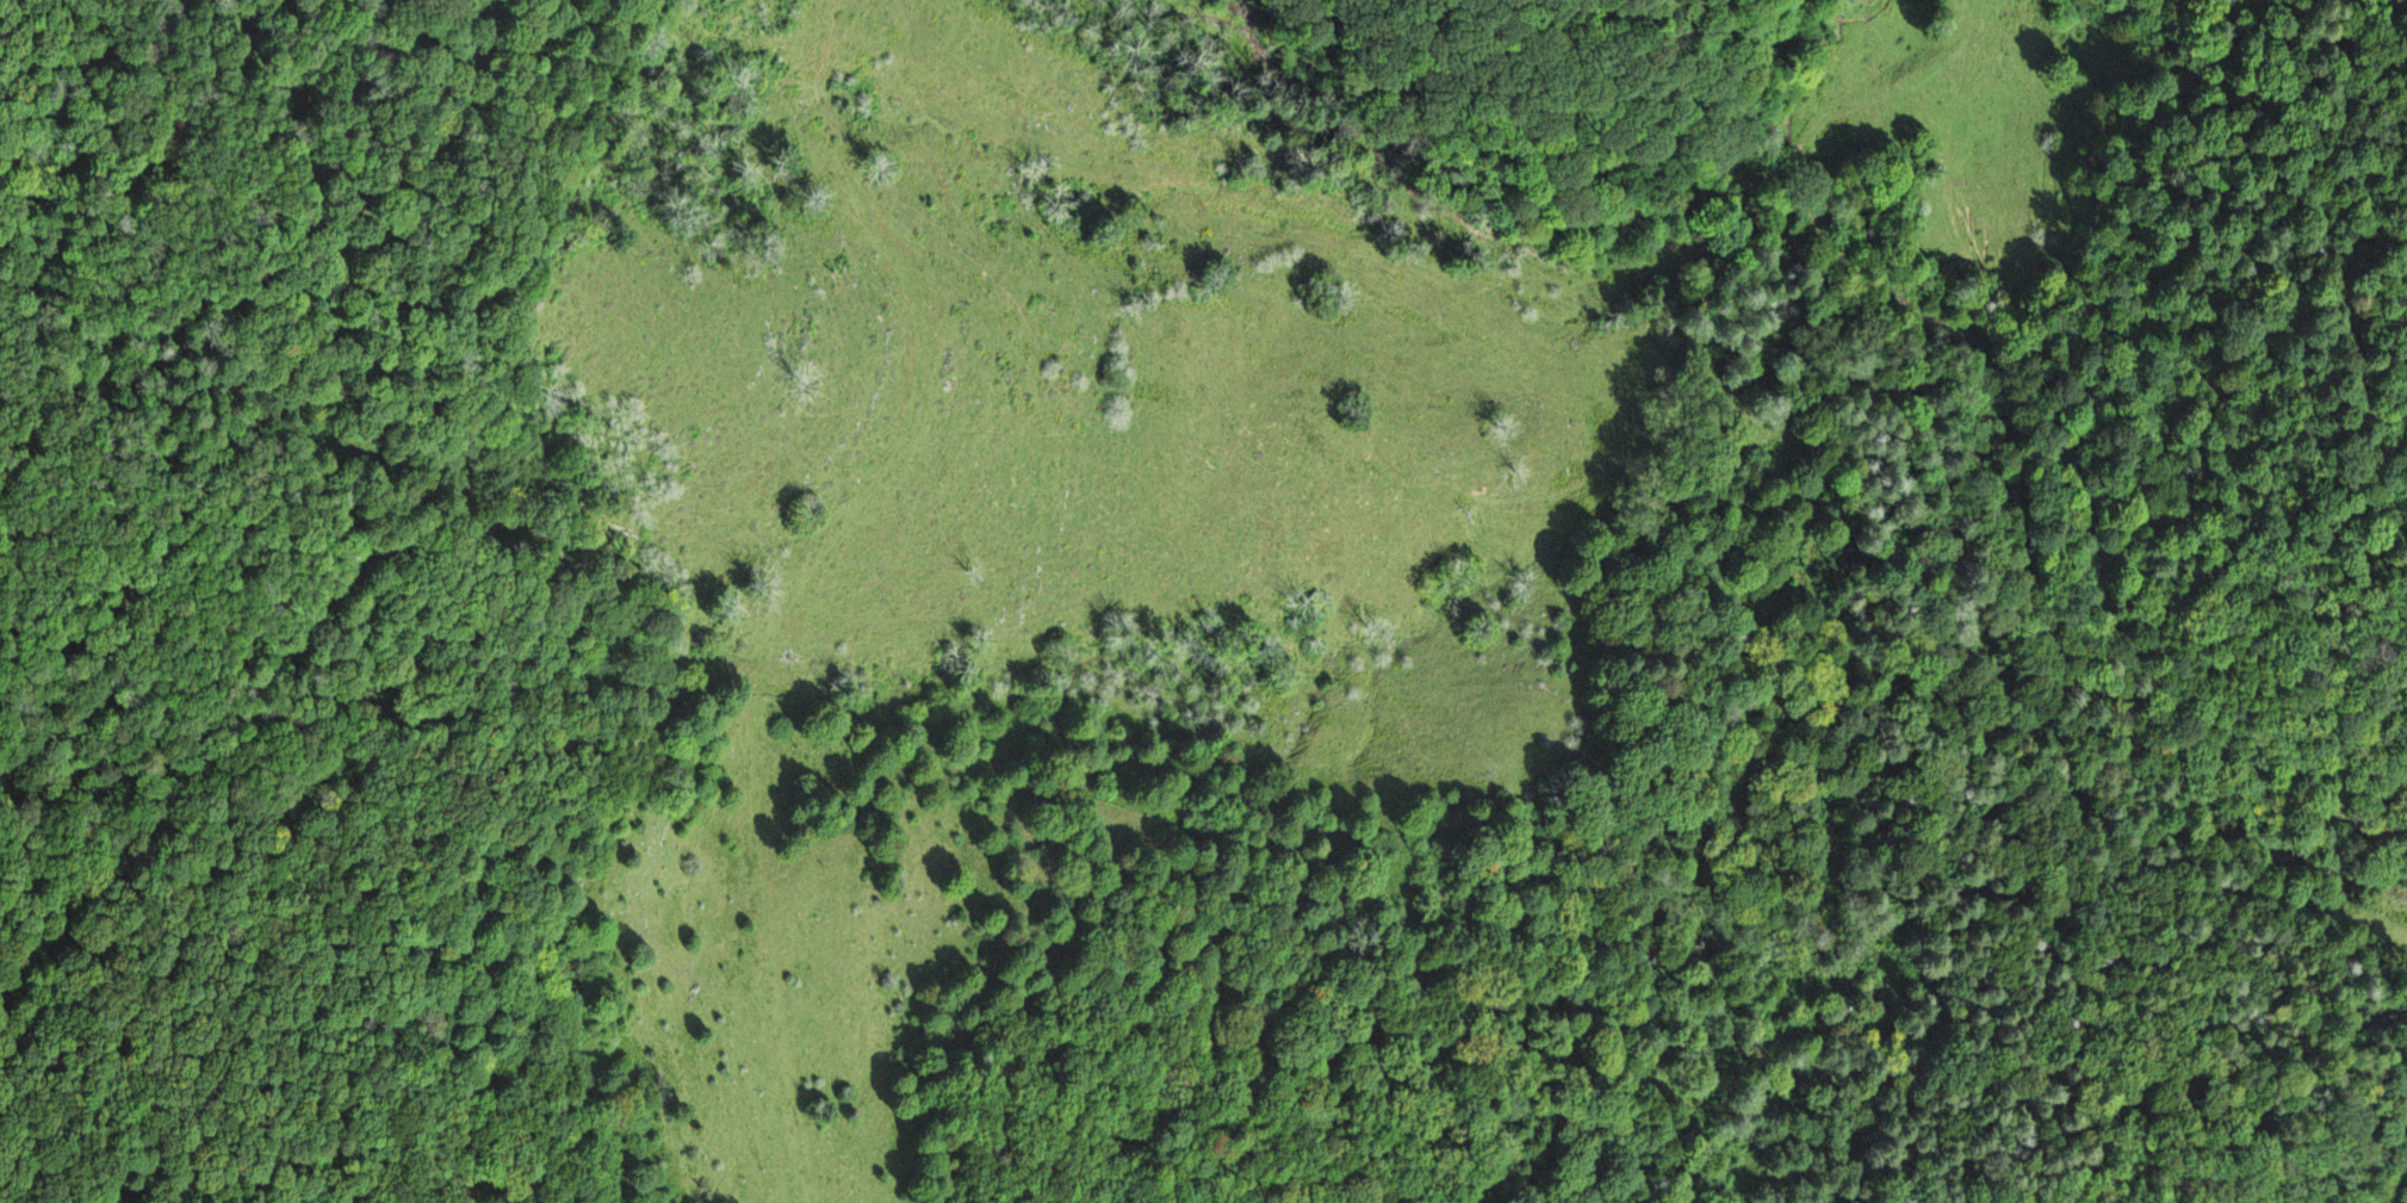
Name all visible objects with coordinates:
road: (2076, 476)

